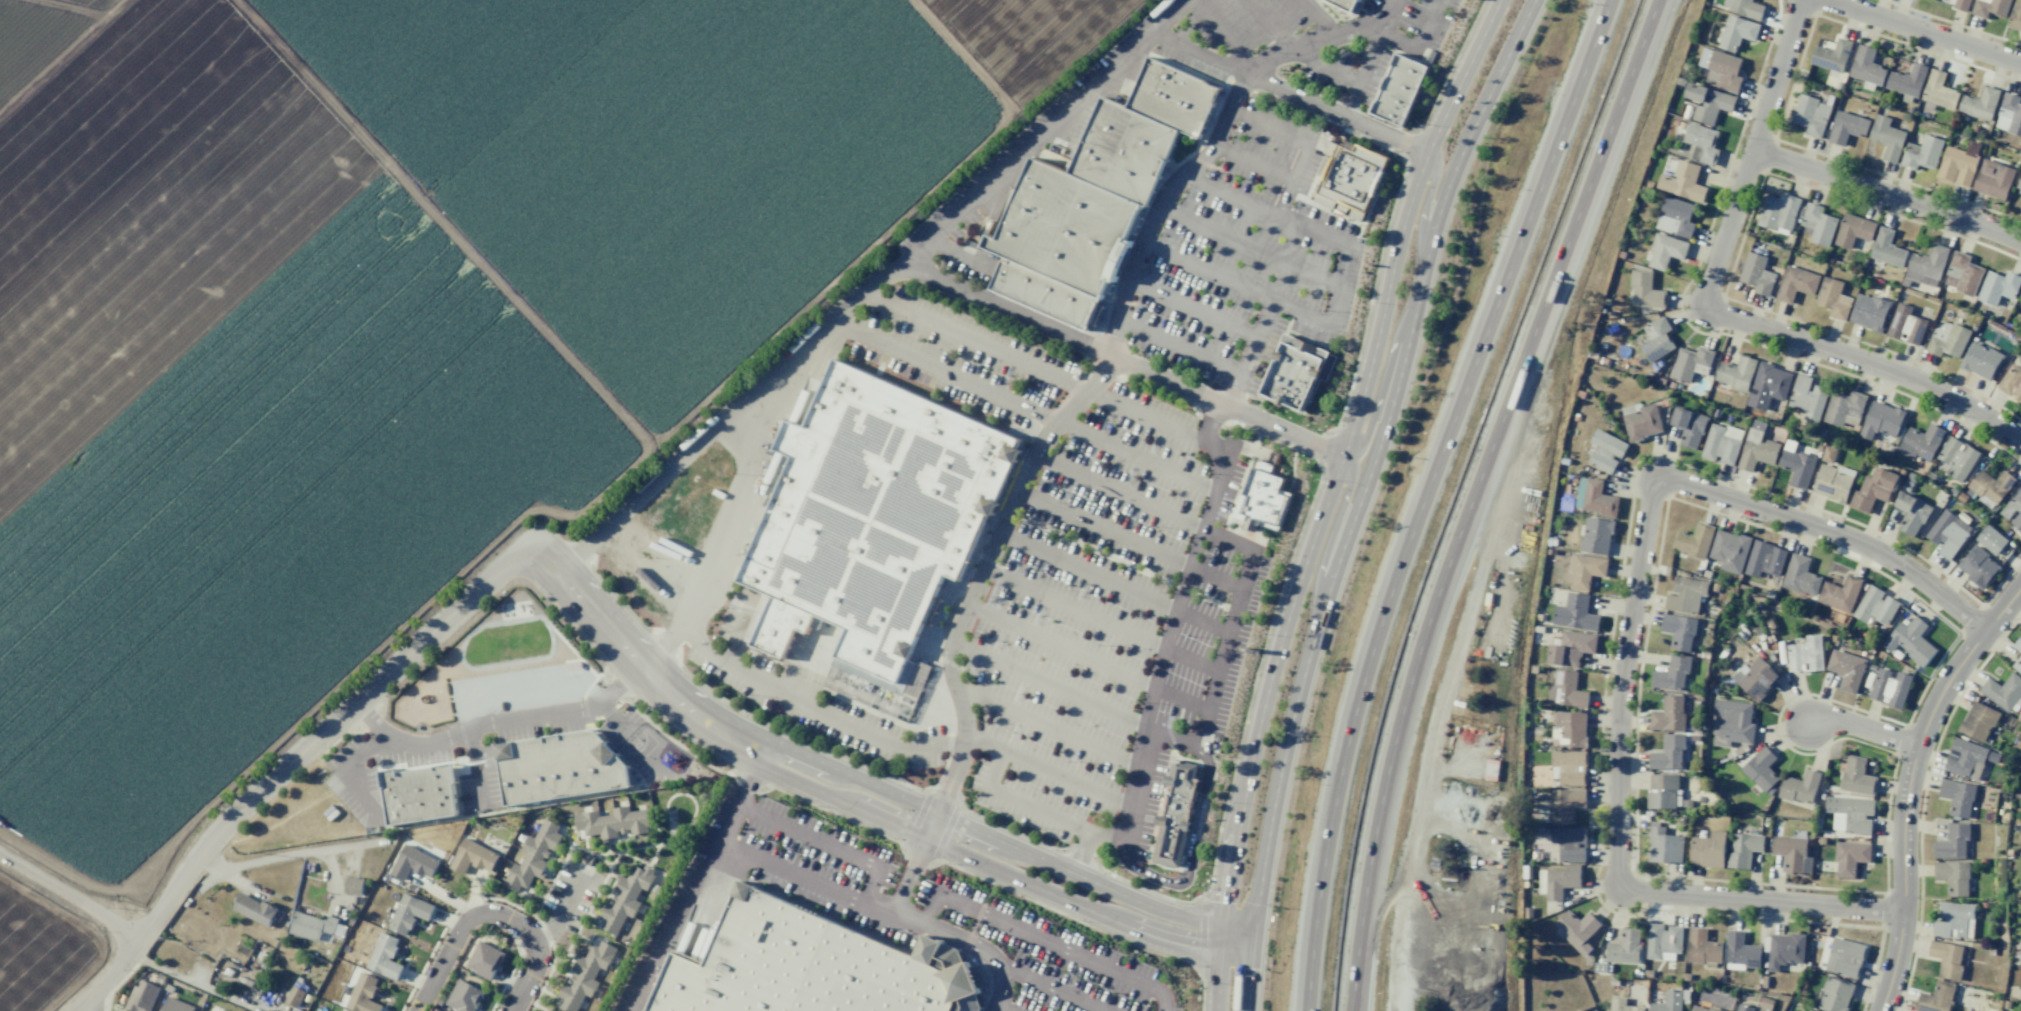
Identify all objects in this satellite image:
building: (1345, 4)
building: (1962, 5)
road: (1391, 6)
building: (1747, 8)
building: (1991, 8)
building: (2015, 16)
road: (1320, 17)
parking lot: (1419, 18)
road: (1271, 24)
parking lot: (1234, 30)
building: (1736, 32)
road: (1916, 33)
road: (1225, 35)
road: (1398, 41)
road: (1199, 55)
building: (1831, 55)
building: (1866, 66)
building: (1721, 70)
road: (1343, 73)
building: (1907, 80)
building: (1399, 89)
building: (1939, 91)
building: (1708, 103)
building: (1980, 104)
road: (1337, 114)
building: (1811, 115)
building: (2009, 115)
building: (1846, 127)
building: (1887, 138)
road: (1305, 142)
building: (1699, 144)
road: (1211, 149)
building: (1922, 153)
road: (1752, 155)
road: (1255, 161)
building: (1959, 164)
building: (1348, 177)
building: (1993, 179)
building: (1683, 182)
road: (984, 186)
building: (2018, 188)
building: (1096, 196)
road: (1429, 196)
road: (1887, 197)
building: (1778, 213)
road: (1282, 217)
building: (1675, 217)
building: (1817, 225)
building: (1853, 230)
road: (1247, 248)
building: (1887, 248)
building: (1665, 251)
parking lot: (1246, 257)
building: (1927, 266)
road: (1206, 272)
building: (1757, 274)
building: (1962, 274)
building: (1796, 283)
building: (1998, 287)
building: (1645, 290)
building: (2020, 296)
building: (1833, 298)
road: (1191, 308)
road: (1006, 310)
building: (1869, 312)
road: (1317, 320)
building: (1905, 325)
crop: (390, 339)
building: (1657, 339)
building: (1947, 339)
road: (978, 342)
road: (1180, 345)
road: (1248, 352)
parking lot: (961, 355)
building: (1981, 361)
building: (1691, 363)
road: (1868, 363)
building: (1293, 373)
building: (1736, 373)
building: (2012, 381)
road: (775, 383)
building: (1768, 386)
building: (1807, 397)
road: (1228, 406)
road: (1024, 408)
building: (1845, 408)
road: (1376, 410)
road: (1151, 417)
building: (1881, 420)
building: (1641, 421)
building: (1689, 427)
road: (1045, 437)
building: (1920, 442)
building: (1721, 444)
building: (1757, 450)
building: (1606, 451)
building: (1828, 454)
building: (1956, 458)
road: (1219, 464)
building: (1833, 482)
building: (1990, 487)
building: (1873, 489)
road: (1120, 490)
road: (1361, 496)
road: (1476, 496)
road: (1328, 497)
road: (1432, 497)
building: (1595, 497)
building: (1264, 501)
road: (1342, 505)
building: (2013, 509)
building: (1911, 513)
building: (874, 527)
road: (1102, 529)
building: (1948, 534)
building: (1596, 536)
building: (1991, 539)
building: (1694, 541)
road: (1195, 547)
road: (1250, 547)
road: (992, 550)
building: (1730, 551)
building: (1765, 559)
building: (1979, 567)
building: (1585, 570)
road: (1086, 571)
building: (1800, 576)
road: (1235, 586)
road: (1179, 589)
building: (1840, 594)
building: (1686, 595)
building: (1875, 605)
road: (1072, 608)
building: (1575, 613)
parking lot: (1109, 614)
road: (1166, 629)
road: (1218, 629)
building: (1680, 631)
building: (1911, 641)
building: (2018, 644)
building: (1571, 648)
road: (1627, 648)
building: (1805, 654)
road: (1189, 661)
road: (640, 664)
building: (2017, 665)
road: (1155, 667)
building: (1846, 670)
building: (1672, 674)
road: (1127, 675)
building: (1755, 678)
building: (1890, 688)
road: (1066, 690)
building: (1566, 690)
road: (1212, 691)
building: (2003, 691)
road: (359, 700)
road: (1146, 705)
building: (1669, 714)
road: (496, 721)
building: (1978, 722)
building: (1732, 723)
road: (1047, 726)
building: (1572, 728)
road: (1864, 732)
road: (1432, 737)
street lamp: (486, 743)
road: (910, 750)
building: (1670, 753)
building: (1965, 759)
street lamp: (366, 765)
building: (1569, 767)
road: (474, 768)
building: (561, 768)
road: (343, 769)
building: (1761, 770)
building: (1857, 776)
parking lot: (477, 781)
road: (750, 781)
road: (1083, 784)
road: (1135, 785)
road: (1909, 785)
building: (1800, 787)
building: (1664, 791)
building: (418, 794)
building: (1957, 797)
building: (1178, 805)
building: (1562, 805)
road: (736, 811)
building: (1850, 814)
road: (935, 819)
building: (613, 822)
building: (1952, 842)
building: (1570, 844)
building: (1664, 845)
road: (1009, 846)
building: (1708, 850)
building: (1743, 850)
road: (1080, 852)
building: (1792, 854)
building: (533, 856)
building: (473, 857)
building: (1850, 858)
road: (253, 863)
building: (413, 863)
road: (790, 872)
road: (1004, 872)
building: (1953, 877)
building: (1560, 881)
building: (353, 886)
building: (625, 898)
road: (69, 899)
road: (1383, 903)
building: (254, 909)
parking lot: (940, 912)
building: (409, 913)
building: (1954, 920)
traffic signals: (1225, 924)
building: (312, 925)
building: (1577, 929)
traffic signals: (1254, 936)
road: (1043, 940)
building: (1663, 941)
building: (1625, 947)
building: (1702, 947)
traffic signals: (1222, 949)
building: (1785, 950)
road: (450, 952)
road: (539, 952)
building: (1741, 953)
building: (384, 957)
building: (1845, 957)
building: (484, 959)
building: (1947, 959)
building: (811, 967)
building: (584, 975)
road: (105, 976)
road: (1057, 987)
building: (363, 994)
building: (1835, 995)
building: (143, 996)
building: (295, 996)
building: (464, 997)
building: (1936, 998)
building: (1669, 1001)
building: (175, 1005)
building: (1623, 1005)
road: (1005, 1007)
building: (1701, 1008)
building: (1743, 1008)
road: (75, 1010)
building: (210, 1010)
building: (338, 1010)
building: (1759, 1010)
building: (1810, 1010)

